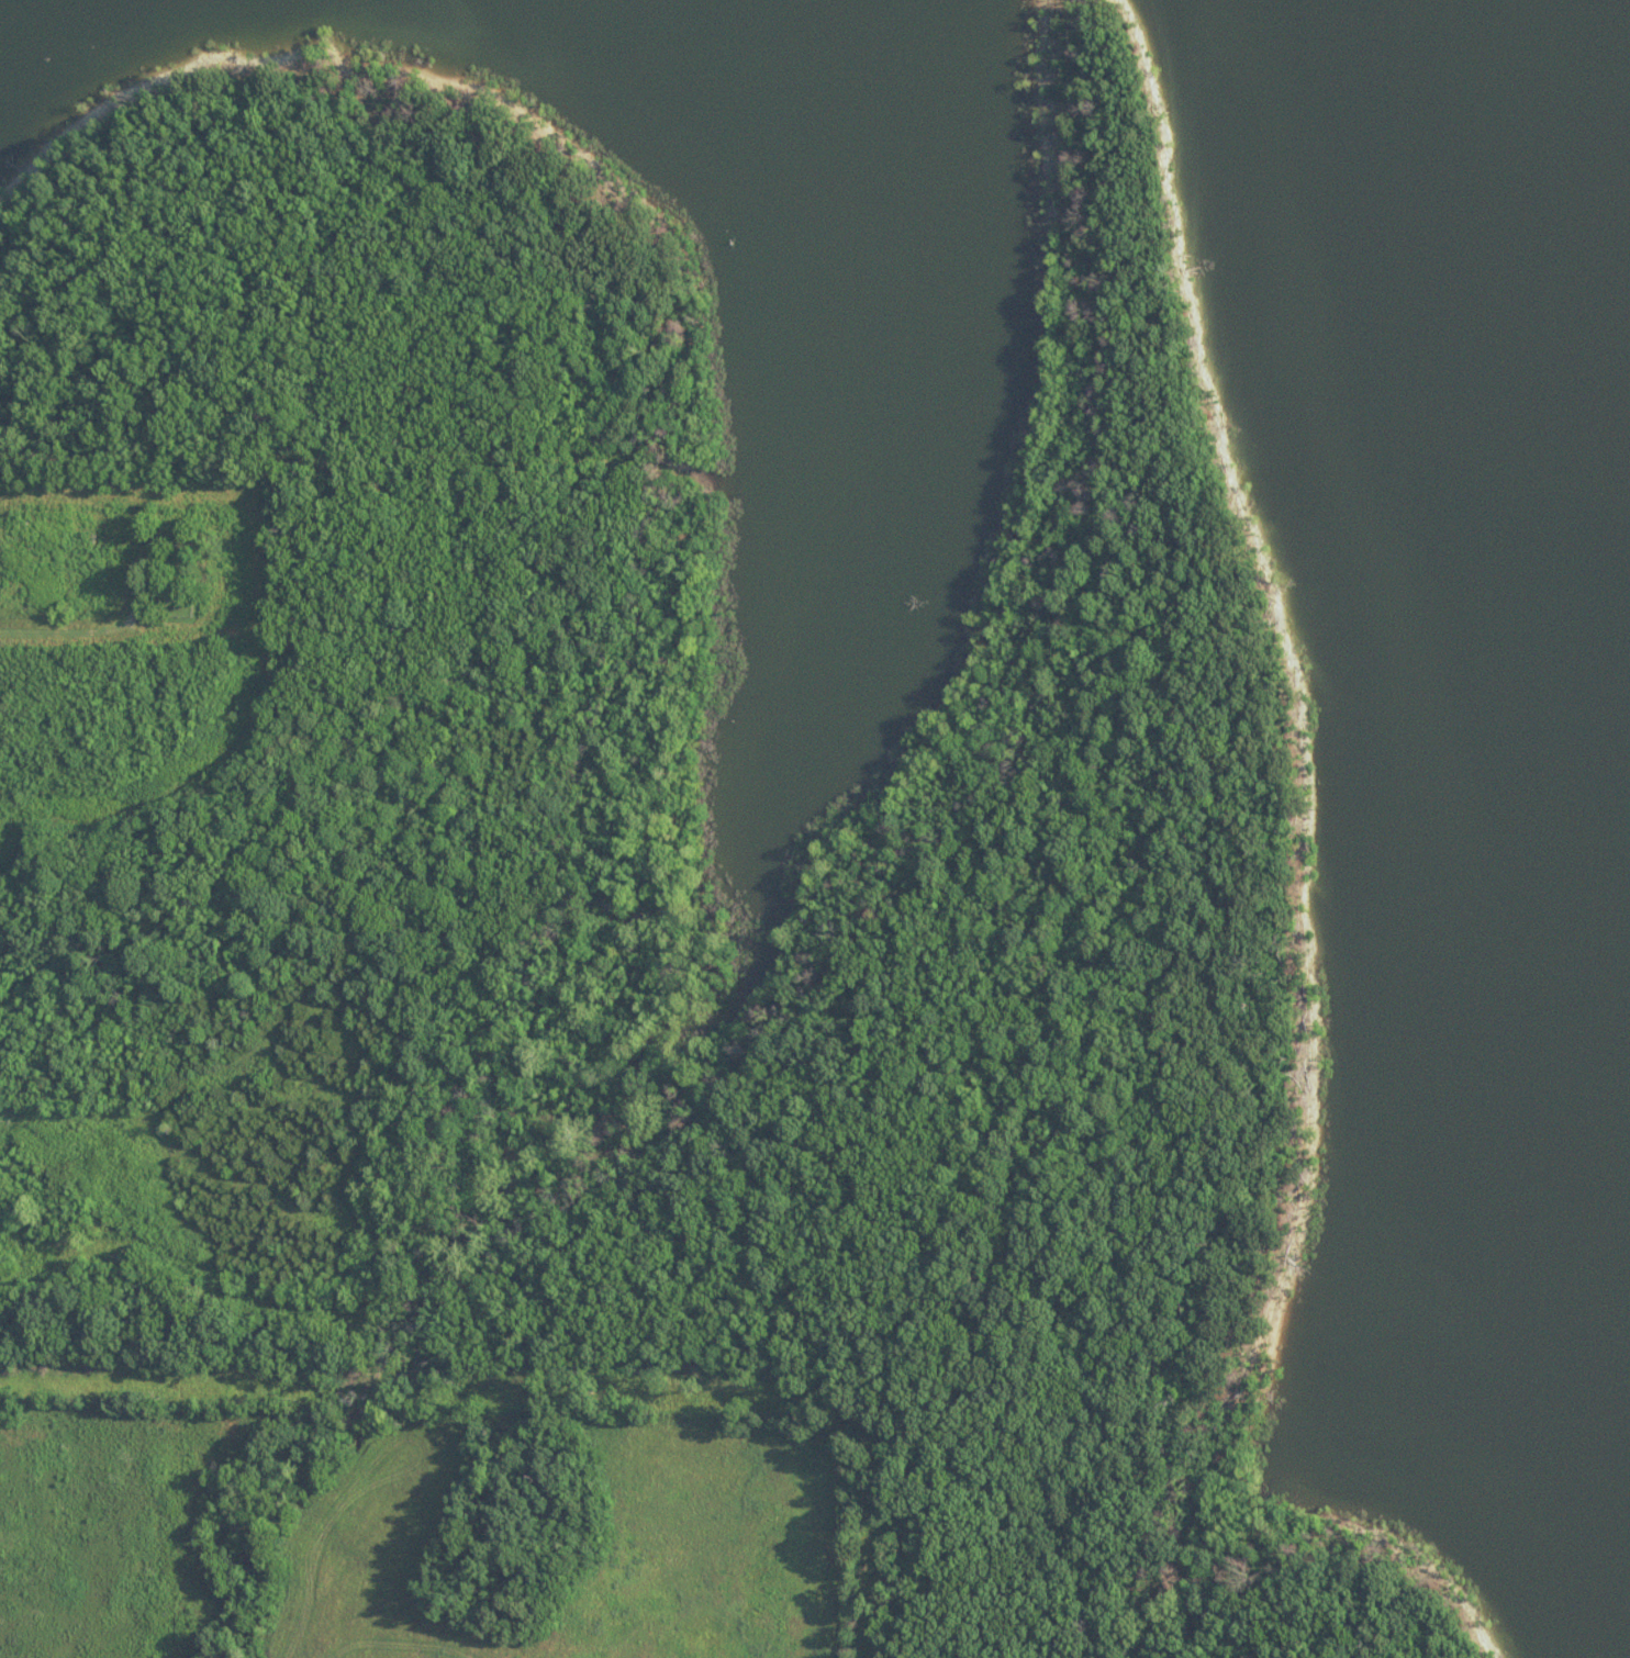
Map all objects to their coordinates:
road: (77, 632)

